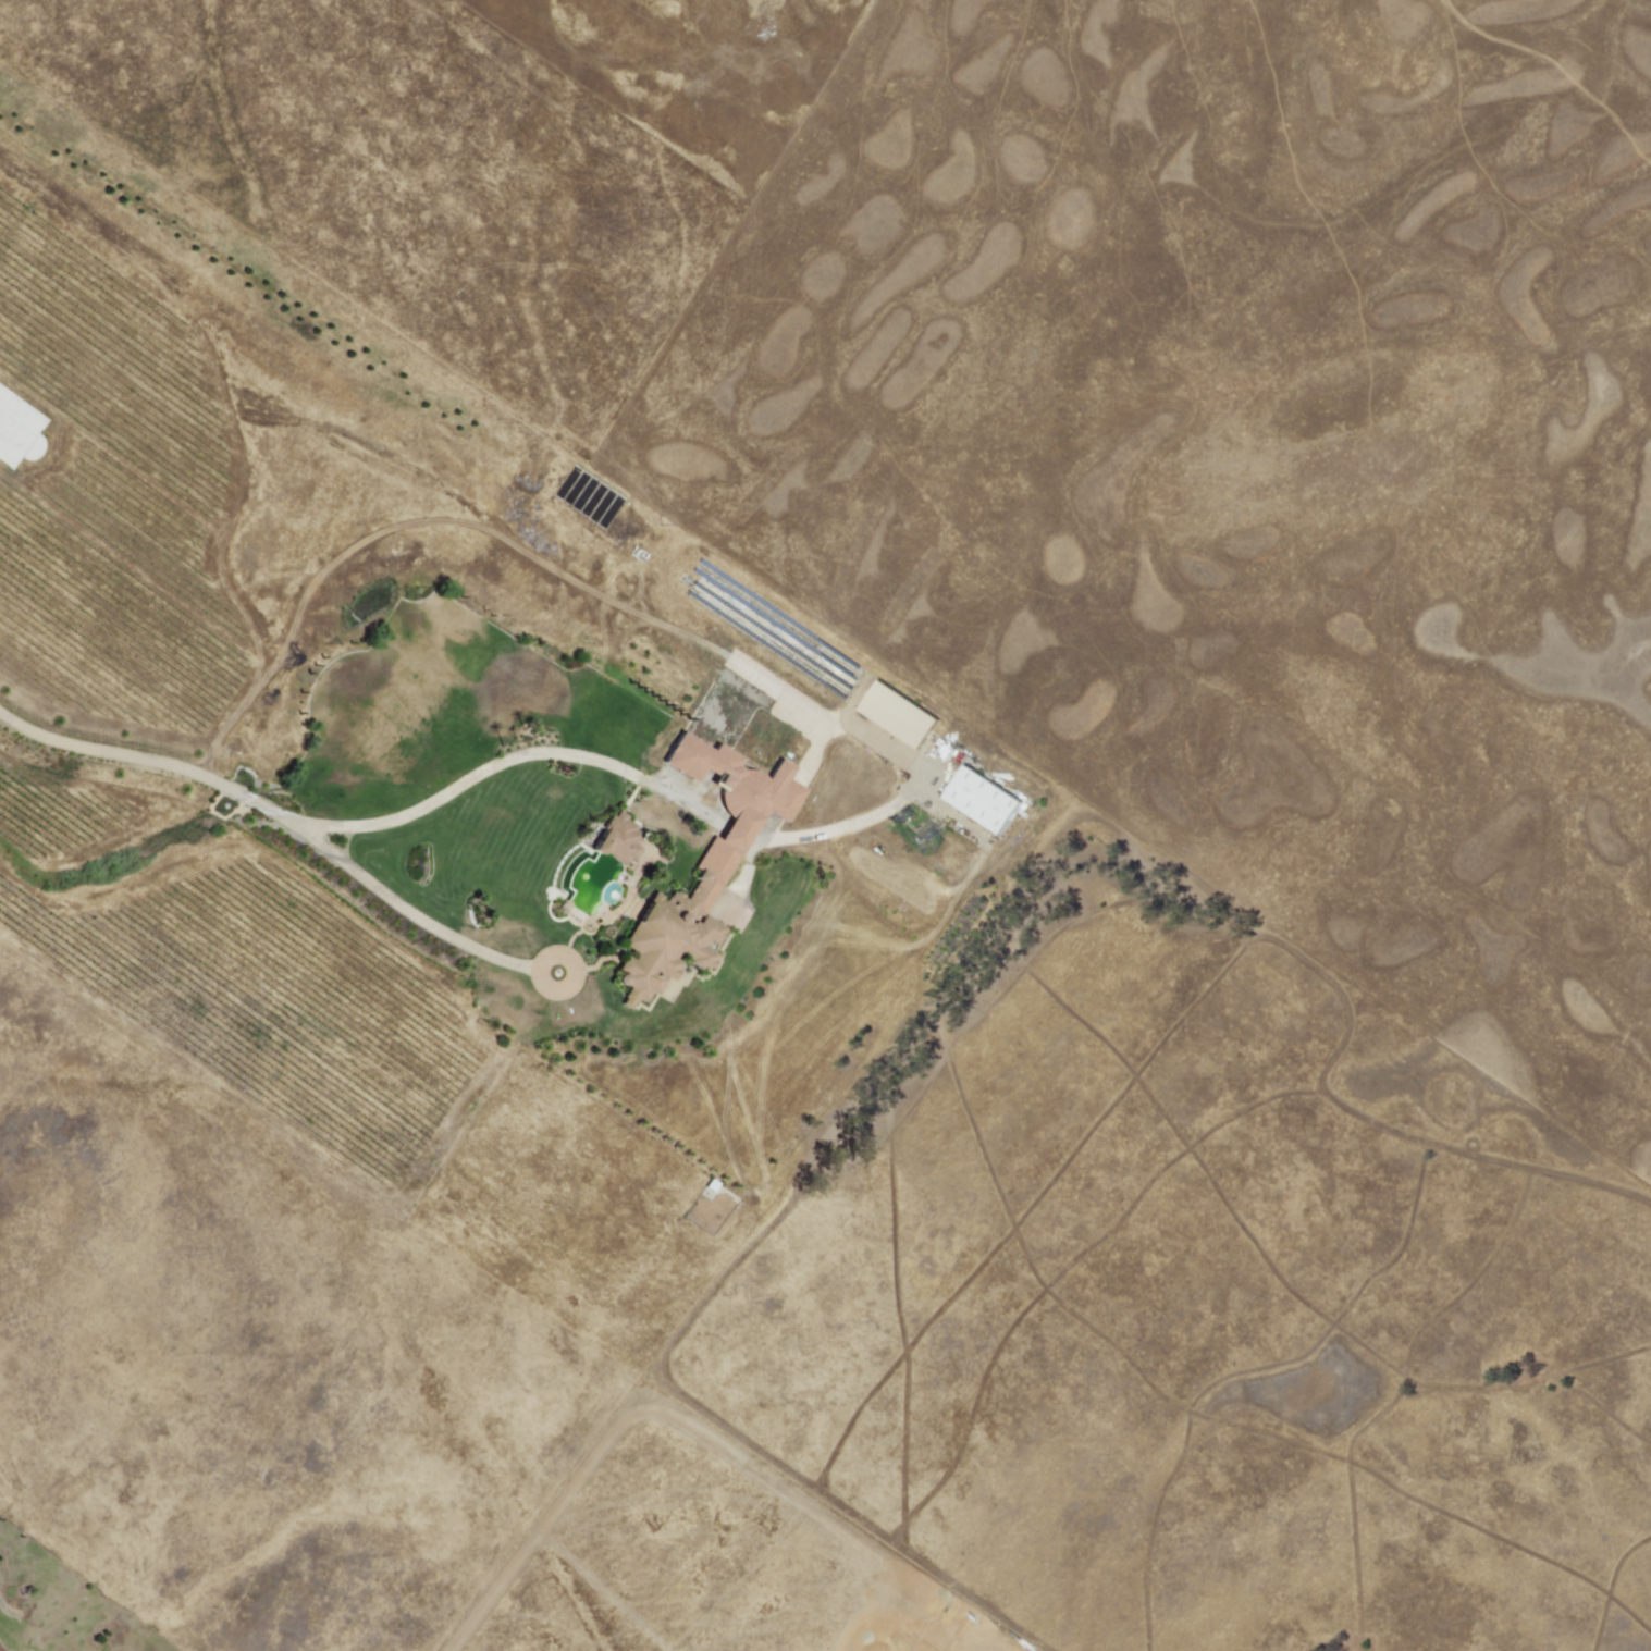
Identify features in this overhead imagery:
building: (897, 714)
road: (480, 772)
building: (981, 800)
road: (287, 824)
building: (616, 839)
building: (701, 870)
road: (879, 1648)

